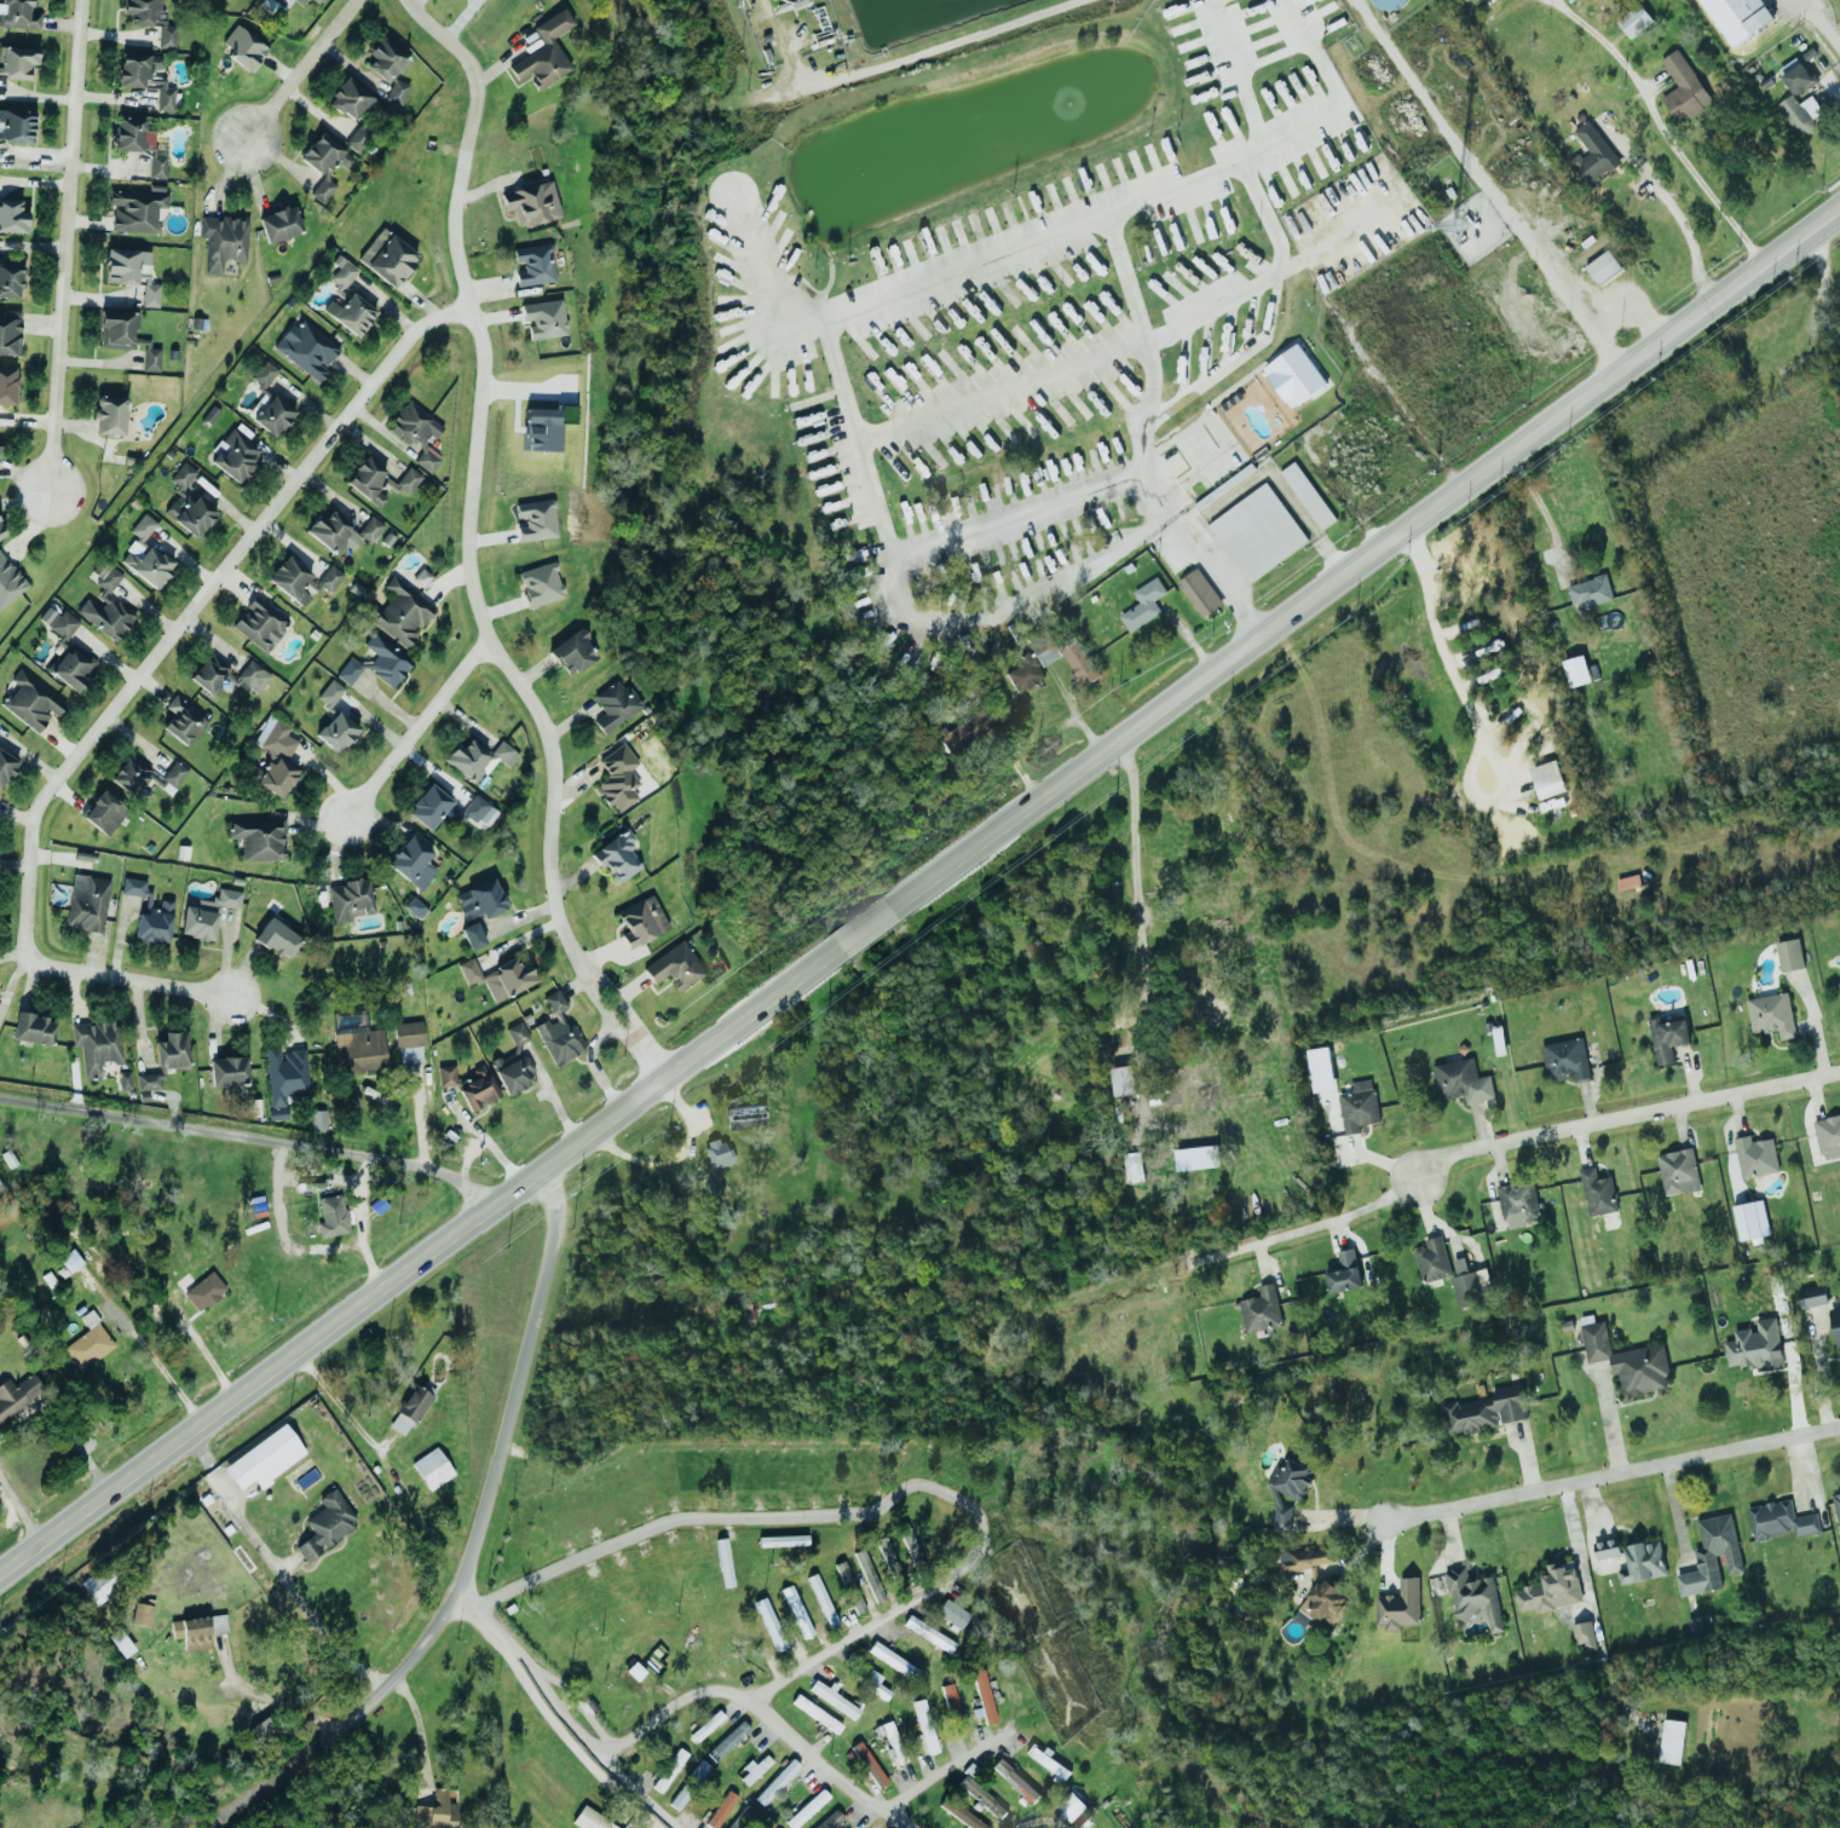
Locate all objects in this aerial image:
building: (278, 0)
building: (1465, 0)
building: (300, 1)
building: (317, 1)
building: (1388, 4)
storage tank: (1388, 4)
building: (1758, 13)
building: (18, 15)
building: (150, 18)
building: (1638, 18)
road: (1819, 23)
building: (242, 47)
road: (921, 51)
building: (544, 52)
building: (17, 62)
building: (388, 69)
road: (300, 70)
road: (1234, 73)
building: (1801, 74)
building: (144, 76)
building: (1685, 83)
road: (1336, 91)
building: (352, 100)
fountain: (1066, 103)
building: (1813, 104)
building: (16, 126)
road: (1656, 132)
building: (358, 137)
building: (138, 143)
building: (1597, 148)
building: (324, 163)
fountain: (861, 172)
road: (1484, 185)
building: (531, 203)
building: (135, 211)
road: (1675, 214)
building: (12, 217)
building: (278, 224)
building: (223, 241)
road: (63, 246)
building: (387, 258)
building: (123, 265)
building: (533, 265)
building: (1604, 265)
road: (957, 266)
building: (342, 271)
road: (1123, 277)
road: (1263, 278)
building: (10, 279)
road: (1823, 288)
road: (1631, 294)
building: (151, 295)
road: (472, 304)
building: (350, 313)
building: (543, 318)
building: (116, 329)
building: (10, 333)
building: (306, 348)
building: (148, 356)
road: (1233, 358)
building: (264, 374)
building: (1292, 375)
building: (7, 385)
building: (109, 415)
building: (272, 415)
road: (1146, 420)
building: (546, 426)
building: (416, 433)
road: (1219, 433)
building: (0, 445)
building: (235, 455)
road: (864, 468)
road: (1268, 471)
building: (367, 480)
building: (408, 480)
building: (1223, 484)
building: (1305, 492)
building: (188, 503)
road: (1542, 512)
road: (1014, 515)
road: (1164, 515)
building: (535, 520)
road: (1190, 525)
building: (1257, 530)
road: (1369, 530)
building: (341, 531)
building: (1, 534)
building: (145, 554)
road: (1331, 557)
road: (1367, 559)
building: (301, 579)
road: (1215, 579)
building: (8, 581)
building: (540, 583)
building: (1588, 590)
building: (1199, 592)
building: (1142, 604)
building: (105, 605)
road: (196, 609)
building: (400, 613)
building: (58, 622)
building: (259, 623)
building: (572, 652)
building: (1077, 659)
building: (73, 667)
building: (1575, 670)
building: (1025, 673)
building: (226, 676)
building: (329, 693)
building: (30, 702)
building: (615, 705)
road: (1470, 711)
building: (183, 721)
road: (419, 727)
building: (959, 731)
building: (336, 732)
road: (1222, 748)
building: (273, 759)
building: (478, 759)
building: (5, 767)
building: (144, 777)
building: (617, 778)
building: (1546, 778)
building: (428, 806)
building: (478, 811)
building: (104, 813)
building: (258, 838)
building: (617, 857)
building: (411, 861)
road: (547, 867)
road: (1135, 892)
building: (350, 899)
building: (479, 900)
building: (87, 903)
building: (149, 912)
building: (206, 913)
building: (641, 921)
road: (865, 928)
building: (472, 935)
building: (277, 938)
building: (1788, 953)
building: (675, 967)
building: (498, 976)
road: (132, 985)
building: (1838, 988)
building: (1213, 1009)
building: (1770, 1014)
building: (34, 1028)
building: (558, 1031)
building: (1666, 1037)
building: (409, 1043)
building: (96, 1045)
building: (359, 1050)
building: (165, 1059)
building: (1564, 1059)
building: (514, 1061)
building: (227, 1071)
building: (446, 1074)
building: (285, 1076)
building: (1121, 1079)
building: (123, 1080)
building: (1461, 1080)
building: (478, 1089)
building: (1159, 1098)
building: (1357, 1105)
building: (318, 1120)
road: (1626, 1121)
building: (1828, 1136)
road: (247, 1142)
building: (716, 1152)
building: (1754, 1155)
road: (675, 1157)
building: (1179, 1161)
building: (1132, 1165)
building: (1677, 1171)
building: (1597, 1192)
building: (1517, 1201)
building: (331, 1216)
road: (1334, 1216)
building: (1749, 1219)
road: (364, 1223)
road: (417, 1256)
building: (1431, 1258)
building: (70, 1259)
building: (1343, 1271)
building: (1465, 1284)
building: (204, 1291)
building: (1810, 1296)
building: (1261, 1309)
building: (1835, 1322)
building: (88, 1342)
building: (1753, 1345)
building: (1626, 1360)
road: (158, 1367)
building: (17, 1394)
building: (410, 1408)
building: (1482, 1411)
building: (265, 1458)
building: (432, 1467)
road: (1611, 1472)
building: (1287, 1489)
road: (877, 1506)
building: (1836, 1509)
road: (19, 1511)
building: (1780, 1520)
building: (325, 1524)
road: (472, 1539)
building: (1711, 1555)
building: (1304, 1557)
building: (1630, 1559)
building: (889, 1561)
road: (275, 1567)
building: (869, 1575)
building: (99, 1584)
building: (1550, 1590)
building: (1472, 1597)
building: (1323, 1601)
building: (1398, 1605)
building: (142, 1614)
building: (951, 1614)
building: (197, 1630)
building: (928, 1633)
building: (1584, 1633)
building: (889, 1657)
building: (873, 1683)
road: (270, 1696)
building: (982, 1696)
building: (832, 1699)
building: (951, 1706)
road: (760, 1711)
road: (561, 1713)
building: (815, 1713)
building: (706, 1725)
building: (261, 1730)
road: (420, 1732)
road: (566, 1738)
building: (890, 1740)
building: (727, 1741)
building: (1671, 1741)
building: (1046, 1760)
building: (866, 1764)
building: (754, 1769)
building: (668, 1770)
building: (698, 1771)
road: (941, 1772)
building: (1014, 1780)
building: (777, 1782)
building: (679, 1797)
building: (980, 1797)
building: (1069, 1805)
building: (721, 1809)
building: (807, 1809)
building: (437, 1810)
building: (959, 1813)
building: (742, 1817)
building: (1080, 1817)
building: (589, 1820)
building: (830, 1821)

